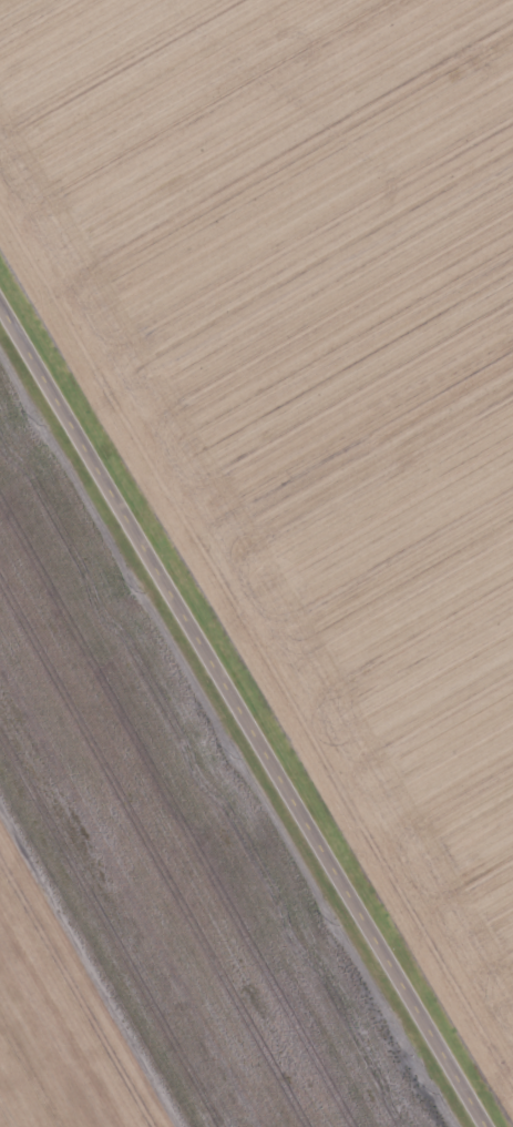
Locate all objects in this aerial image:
road: (243, 715)

